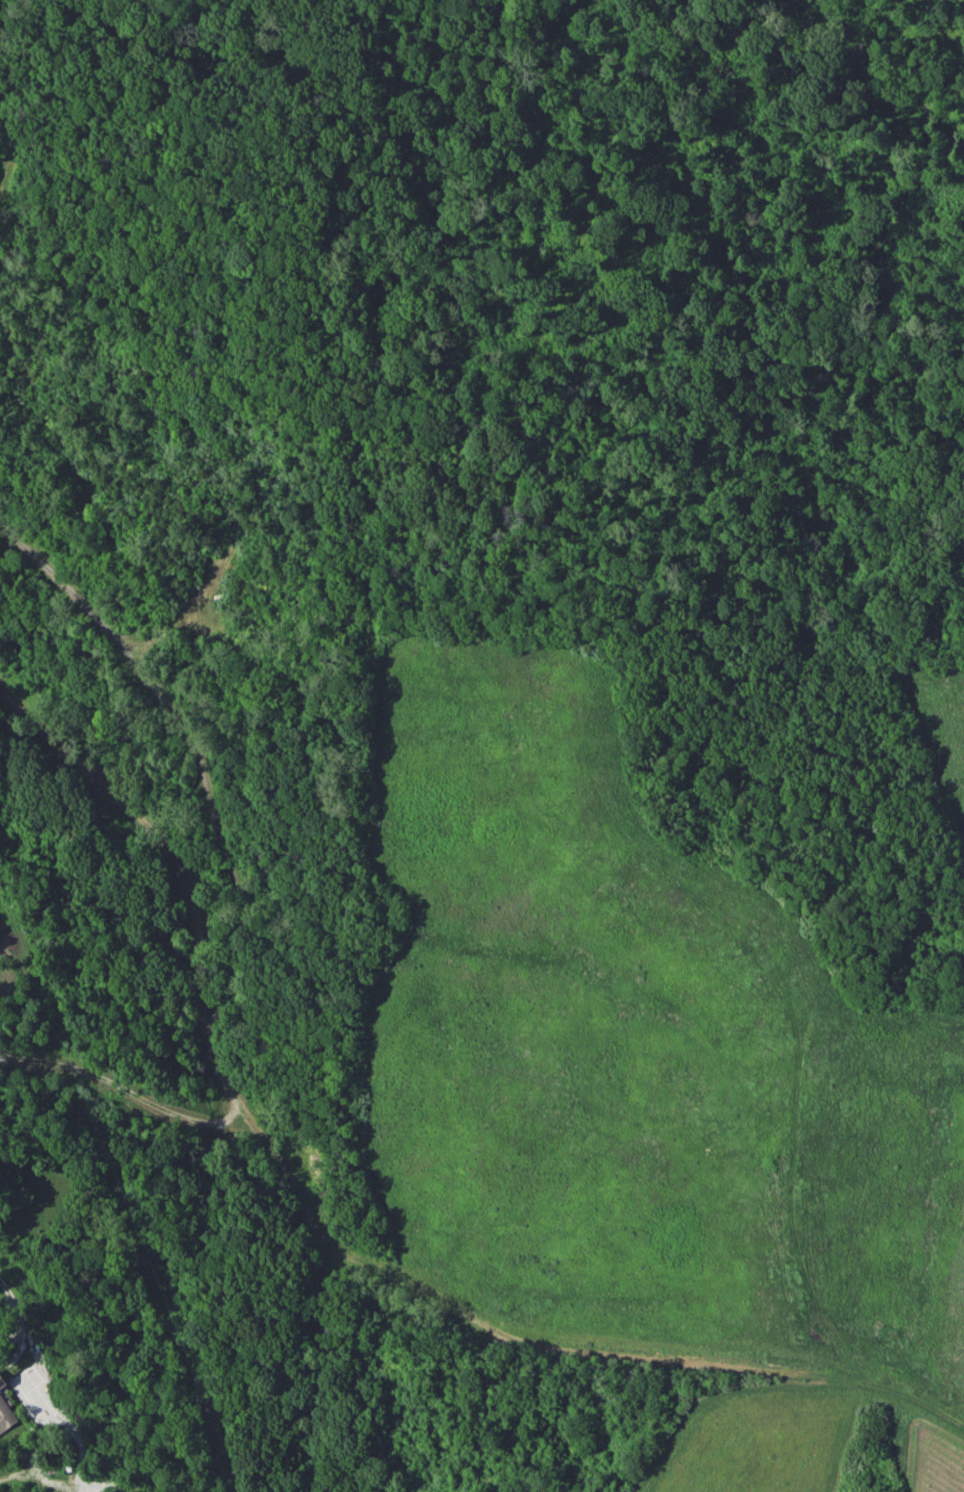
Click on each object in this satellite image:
road: (22, 1327)
building: (1, 1382)
road: (53, 1415)
building: (5, 1416)
road: (38, 1473)

